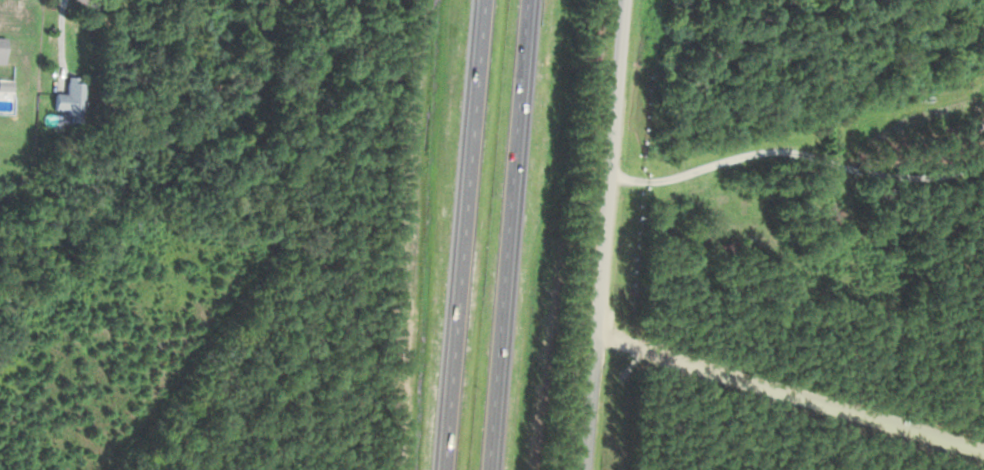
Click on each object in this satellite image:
building: (1, 48)
building: (68, 98)
road: (798, 148)
road: (509, 234)
road: (466, 235)
road: (605, 235)
road: (788, 394)

